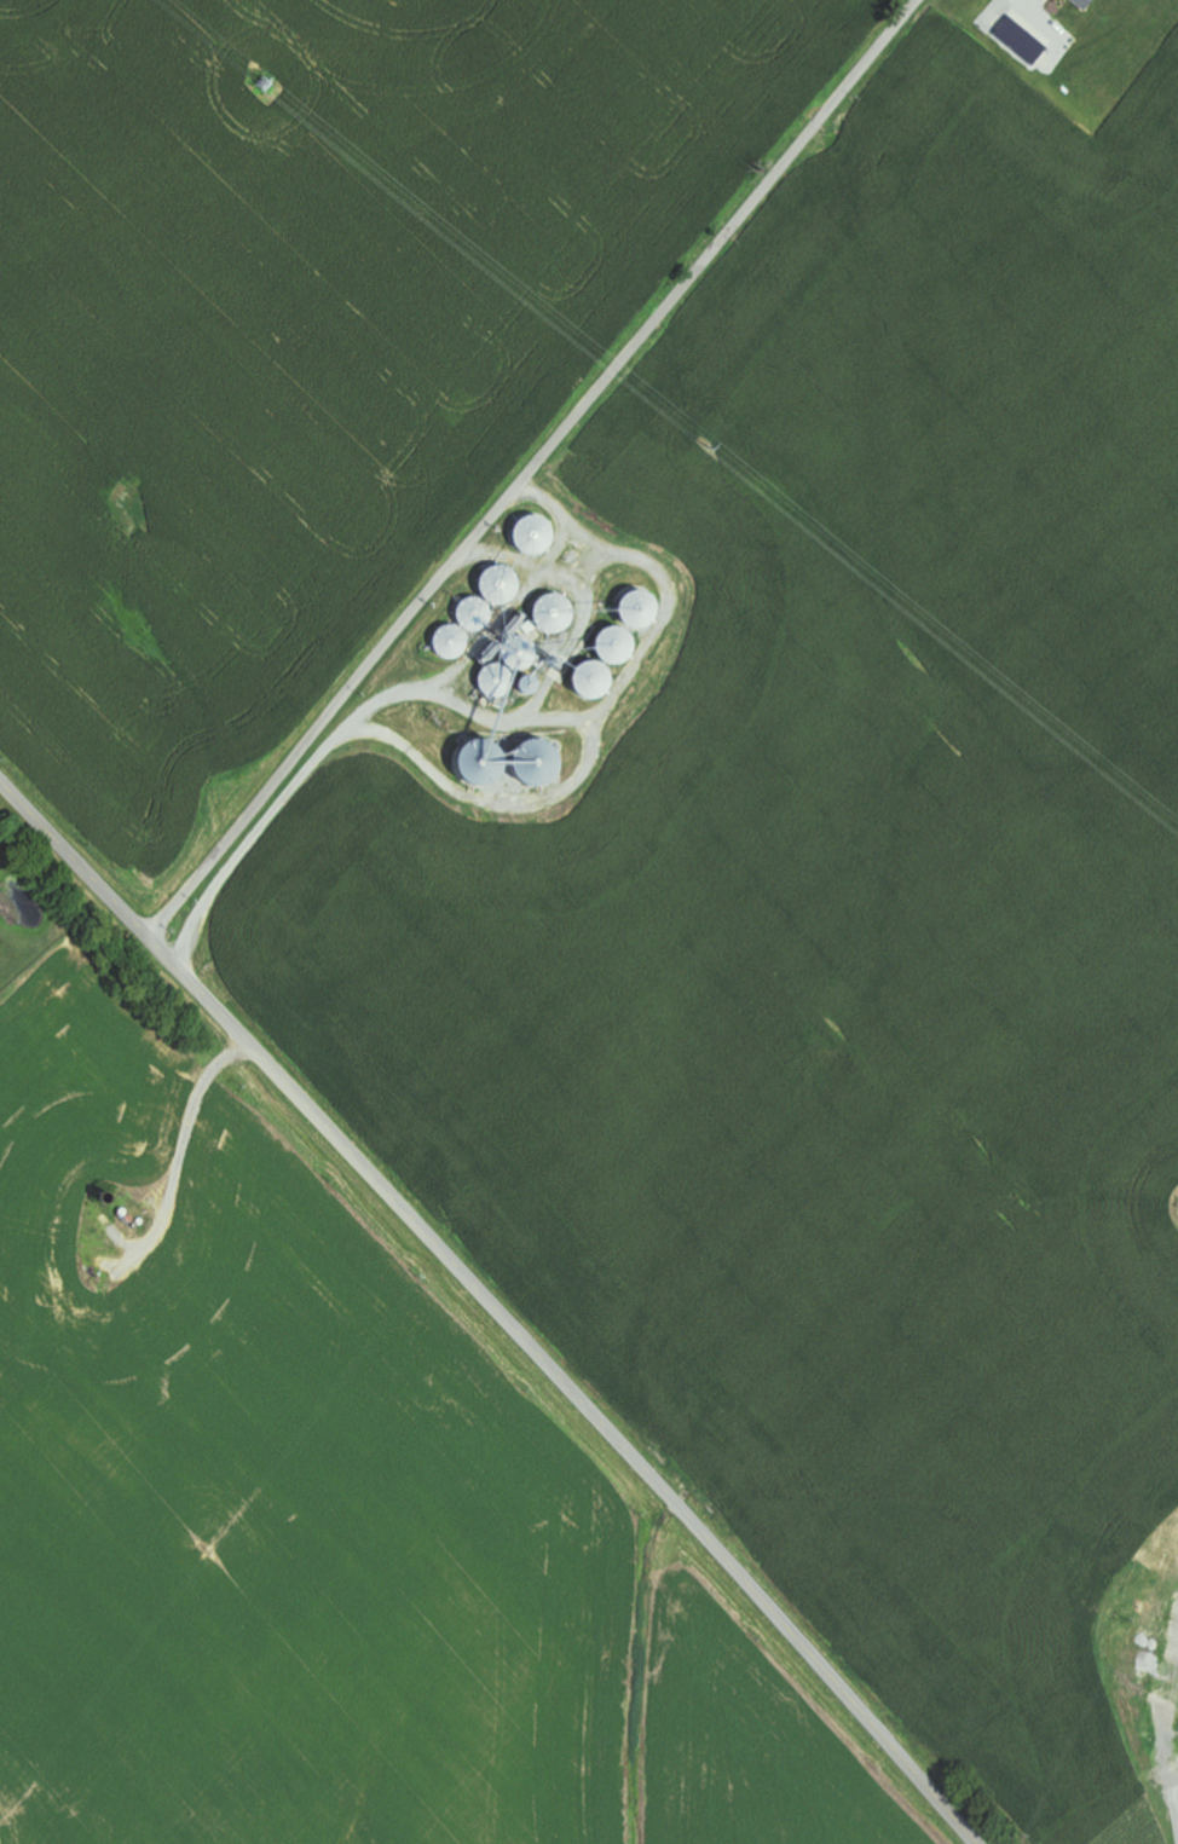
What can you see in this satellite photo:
building: (1085, 4)
building: (1024, 41)
road: (533, 467)
road: (495, 1306)

